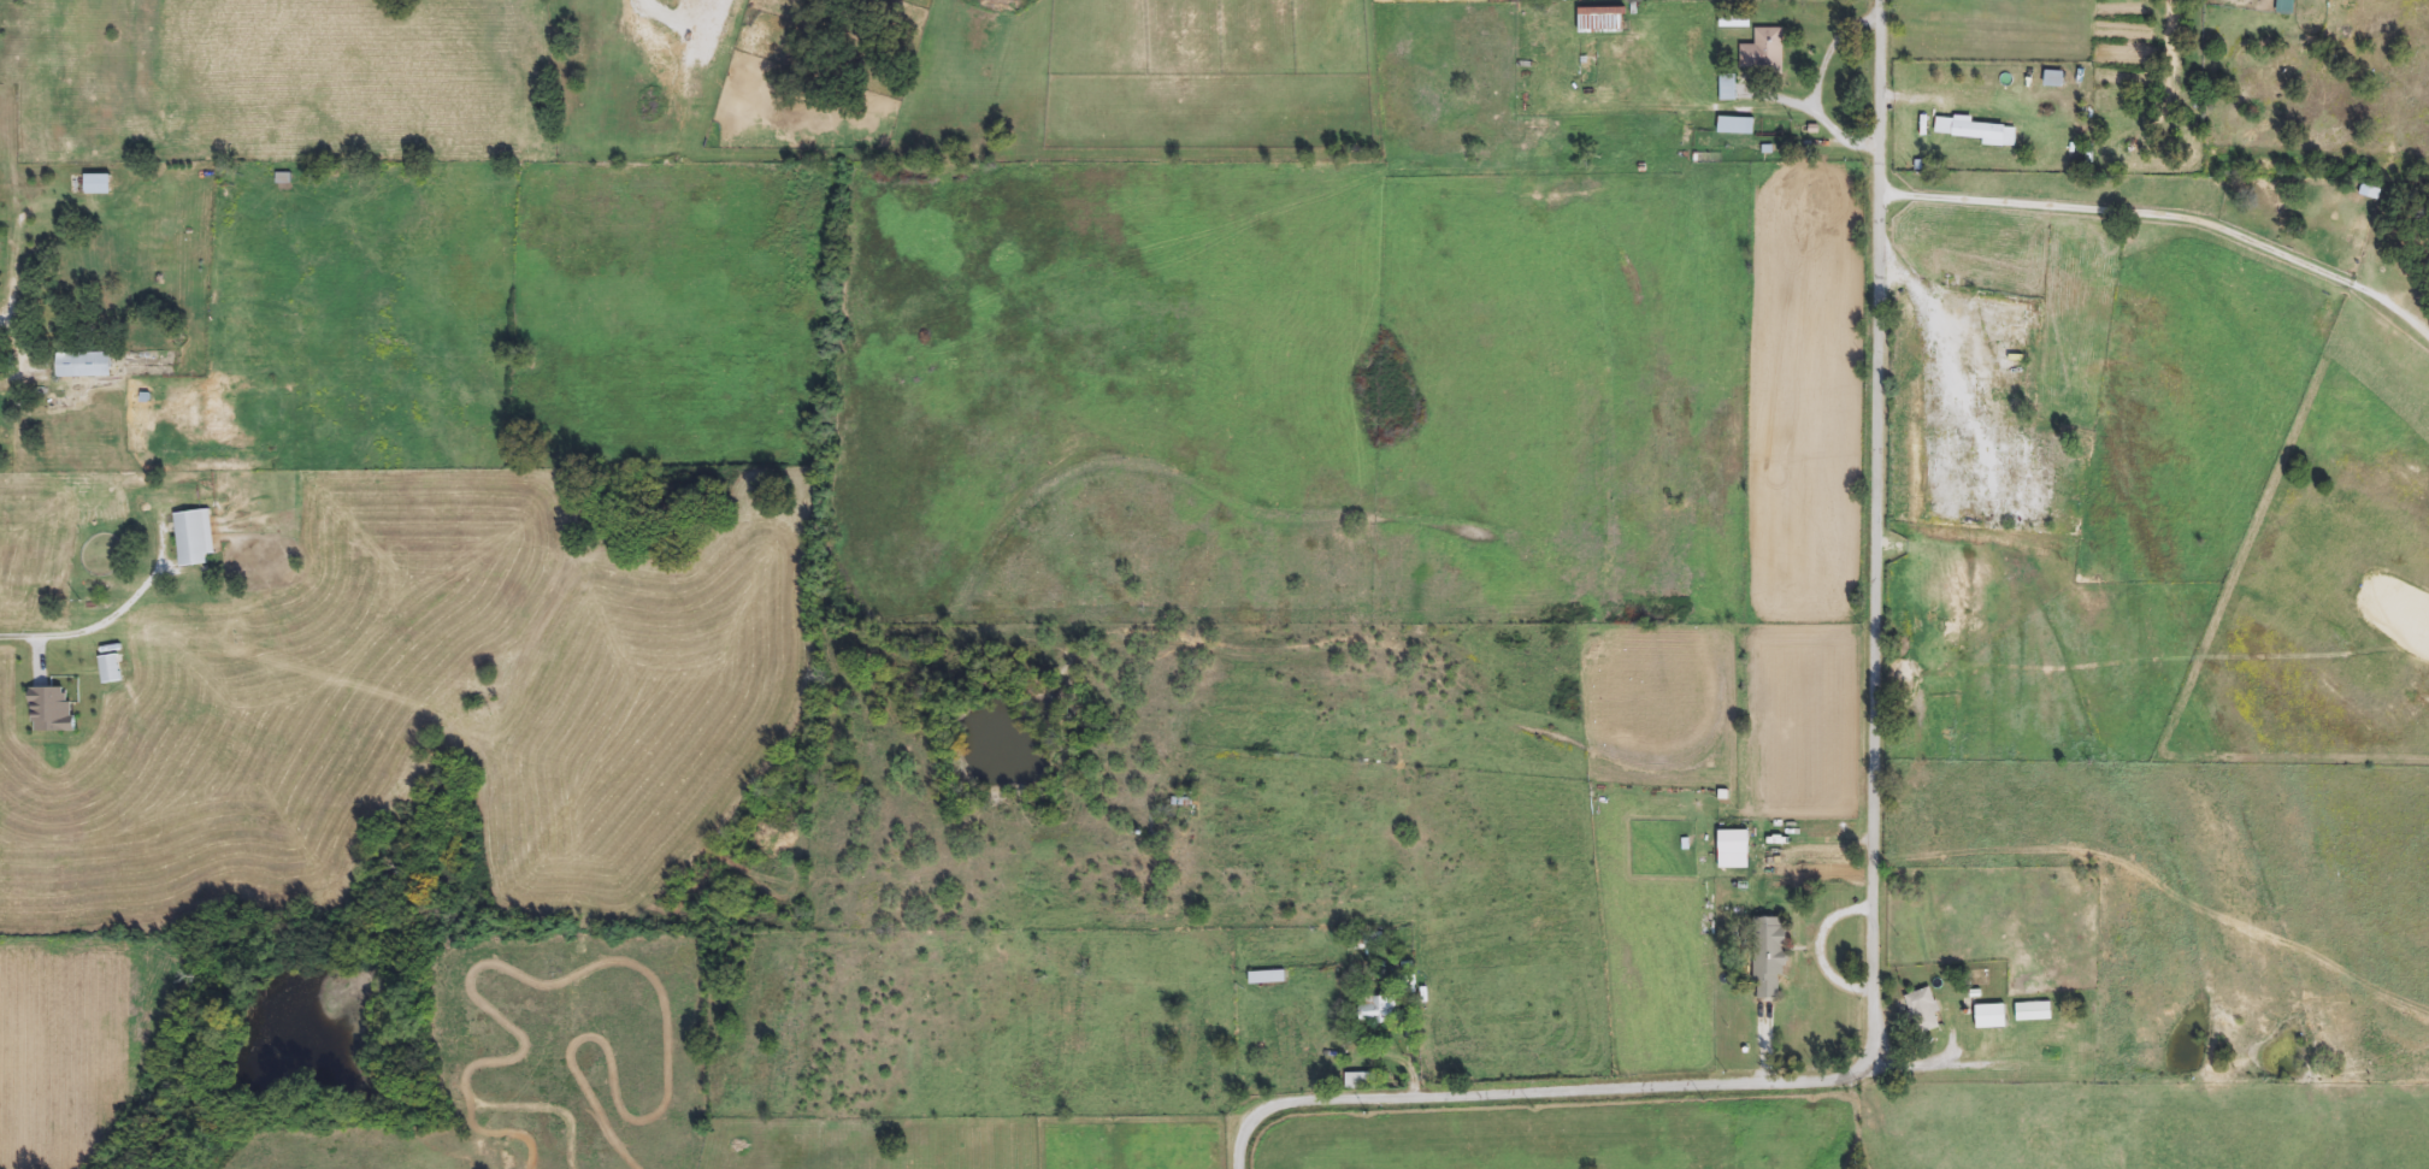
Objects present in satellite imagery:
building: (1602, 22)
road: (1830, 49)
building: (1763, 53)
building: (2056, 79)
building: (1727, 89)
road: (1823, 117)
building: (1737, 126)
building: (1973, 131)
building: (283, 179)
building: (99, 185)
road: (2151, 209)
building: (87, 366)
building: (195, 538)
road: (94, 627)
building: (111, 669)
road: (1871, 875)
building: (1361, 940)
road: (1816, 946)
building: (1769, 958)
building: (1267, 979)
building: (1376, 1010)
building: (1924, 1011)
building: (1993, 1016)
road: (1762, 1047)
road: (1909, 1067)
building: (1361, 1082)

